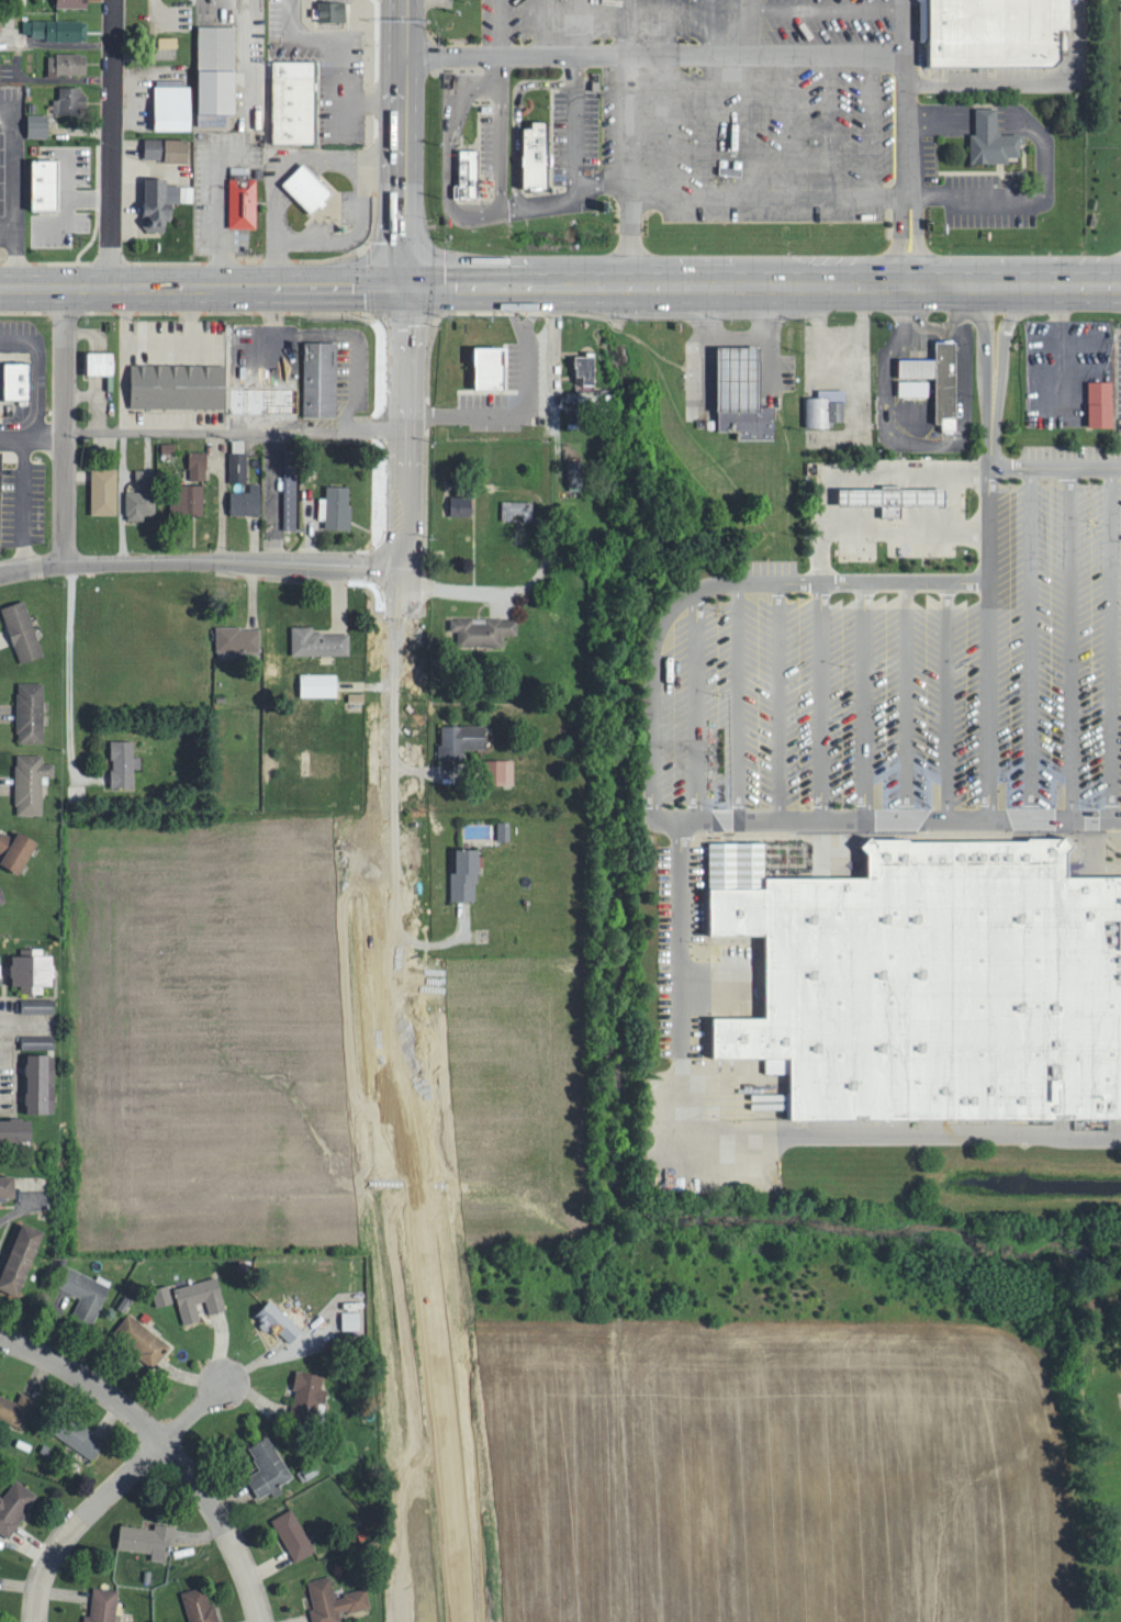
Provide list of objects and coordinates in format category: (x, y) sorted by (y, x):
building: (19, 1)
building: (72, 2)
building: (333, 9)
building: (60, 29)
building: (997, 32)
building: (68, 63)
building: (217, 68)
road: (1024, 79)
building: (71, 99)
building: (295, 99)
building: (173, 107)
building: (38, 125)
building: (993, 138)
road: (403, 141)
road: (905, 142)
road: (112, 143)
building: (167, 148)
building: (536, 154)
building: (694, 166)
building: (470, 171)
building: (45, 183)
building: (309, 187)
building: (162, 200)
building: (245, 202)
traffic signals: (407, 282)
road: (684, 282)
road: (124, 284)
road: (982, 358)
building: (101, 361)
road: (996, 361)
building: (490, 366)
building: (585, 368)
building: (321, 378)
building: (18, 379)
building: (730, 380)
building: (944, 381)
building: (179, 384)
building: (915, 387)
building: (265, 399)
building: (1101, 402)
building: (827, 406)
building: (733, 421)
road: (64, 426)
road: (202, 434)
building: (239, 460)
building: (199, 463)
building: (0, 472)
building: (144, 474)
building: (578, 474)
building: (105, 490)
building: (888, 496)
road: (220, 499)
building: (248, 500)
building: (188, 501)
building: (292, 501)
building: (142, 503)
building: (462, 505)
building: (337, 506)
road: (201, 563)
road: (818, 570)
building: (484, 629)
building: (23, 630)
road: (860, 638)
road: (900, 638)
road: (942, 638)
road: (986, 639)
road: (1025, 639)
road: (1067, 639)
road: (1109, 639)
building: (239, 640)
building: (320, 641)
parking lot: (907, 659)
road: (66, 673)
building: (320, 683)
road: (733, 695)
road: (773, 695)
road: (818, 695)
road: (694, 698)
building: (31, 712)
building: (462, 739)
building: (125, 762)
building: (502, 771)
building: (31, 782)
road: (901, 814)
building: (505, 830)
building: (15, 849)
building: (464, 874)
building: (2, 894)
road: (389, 957)
building: (33, 969)
building: (929, 972)
building: (40, 1005)
road: (25, 1025)
building: (38, 1041)
building: (41, 1083)
road: (748, 1121)
building: (15, 1129)
building: (7, 1186)
building: (20, 1260)
building: (86, 1294)
building: (164, 1295)
building: (200, 1298)
building: (279, 1321)
building: (143, 1340)
road: (88, 1383)
building: (310, 1395)
building: (16, 1408)
road: (194, 1413)
building: (80, 1436)
building: (268, 1467)
building: (15, 1506)
road: (82, 1522)
road: (220, 1528)
building: (294, 1533)
building: (148, 1537)
building: (335, 1600)
building: (104, 1604)
building: (200, 1604)

